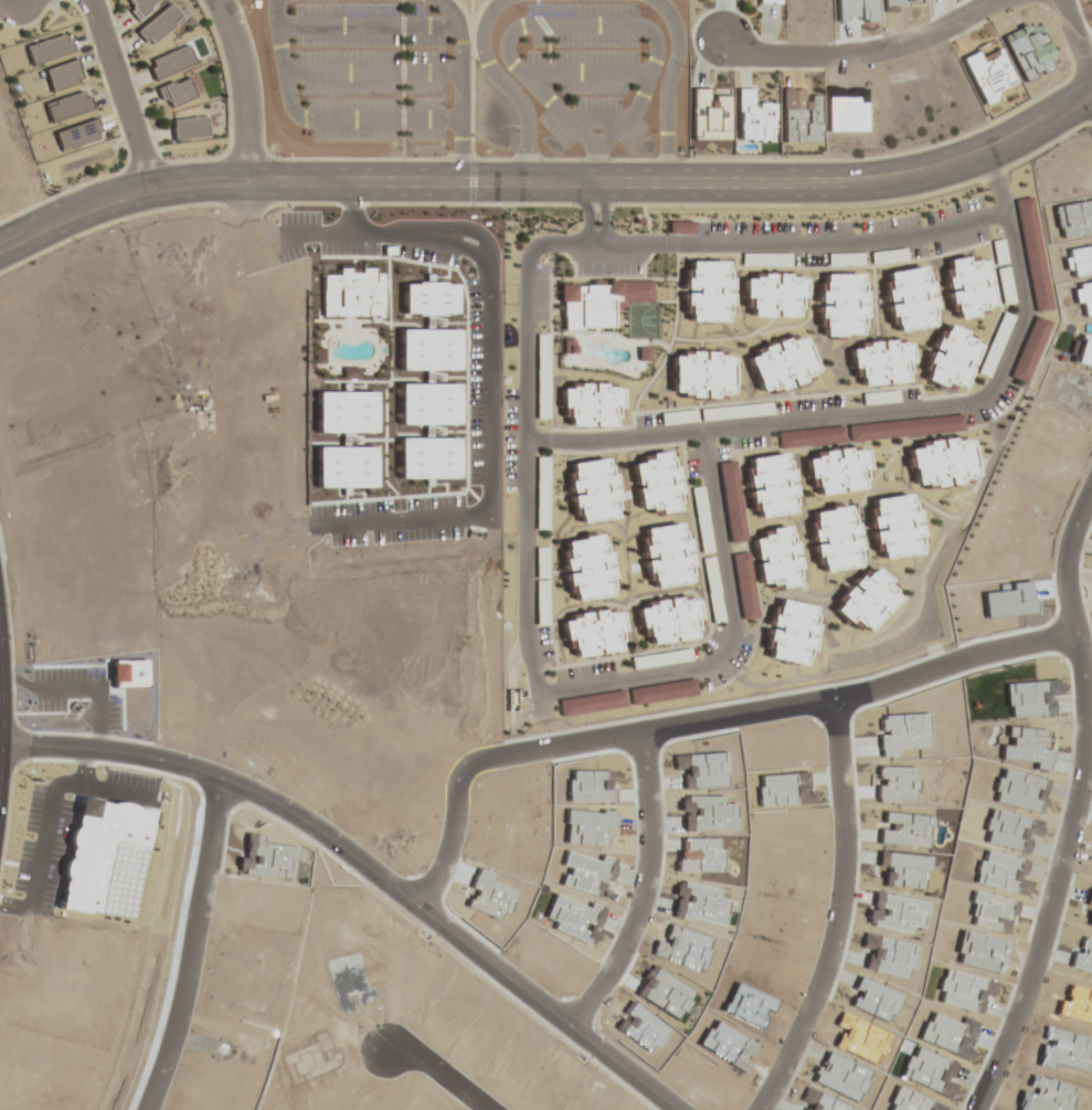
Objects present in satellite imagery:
building: (768, 1)
road: (22, 3)
road: (665, 6)
building: (140, 7)
building: (159, 25)
road: (598, 28)
road: (1079, 29)
road: (371, 31)
building: (47, 50)
road: (881, 53)
building: (171, 62)
parking lot: (367, 73)
building: (987, 74)
building: (62, 75)
parking lot: (590, 76)
road: (374, 77)
road: (594, 78)
road: (670, 83)
road: (464, 84)
road: (501, 86)
road: (243, 87)
road: (119, 92)
building: (178, 92)
building: (66, 106)
building: (709, 114)
building: (798, 116)
building: (753, 118)
road: (319, 121)
road: (602, 123)
building: (189, 128)
building: (76, 135)
road: (549, 183)
road: (353, 208)
road: (587, 214)
road: (604, 214)
building: (998, 251)
building: (1032, 254)
building: (764, 258)
building: (844, 258)
building: (1005, 285)
building: (966, 286)
building: (707, 290)
building: (772, 294)
building: (909, 298)
building: (598, 303)
building: (841, 305)
building: (995, 345)
building: (1028, 349)
building: (951, 359)
building: (881, 362)
building: (781, 363)
road: (486, 370)
building: (701, 373)
building: (542, 376)
building: (879, 398)
road: (524, 403)
building: (591, 405)
building: (718, 413)
building: (904, 429)
building: (810, 436)
building: (940, 463)
building: (837, 471)
building: (656, 483)
building: (771, 485)
building: (593, 489)
building: (542, 494)
building: (732, 501)
building: (703, 519)
building: (894, 526)
building: (836, 538)
building: (667, 556)
building: (777, 558)
building: (587, 568)
building: (745, 584)
building: (714, 589)
building: (865, 601)
building: (1007, 609)
building: (542, 616)
building: (670, 620)
building: (593, 632)
building: (791, 632)
building: (661, 658)
road: (624, 680)
road: (3, 689)
building: (662, 693)
building: (512, 699)
building: (592, 702)
building: (1026, 708)
road: (690, 716)
building: (1025, 758)
building: (1022, 800)
road: (1083, 805)
road: (367, 866)
road: (643, 885)
road: (835, 912)
road: (190, 948)
road: (437, 1074)

